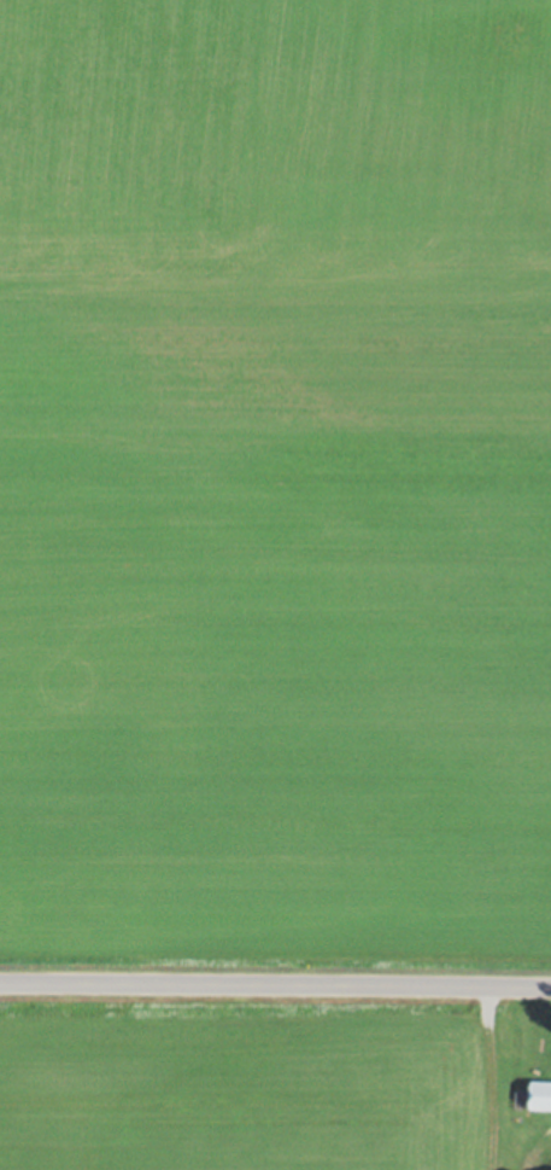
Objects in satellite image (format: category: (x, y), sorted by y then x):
road: (275, 988)
building: (541, 1095)
building: (523, 1099)

